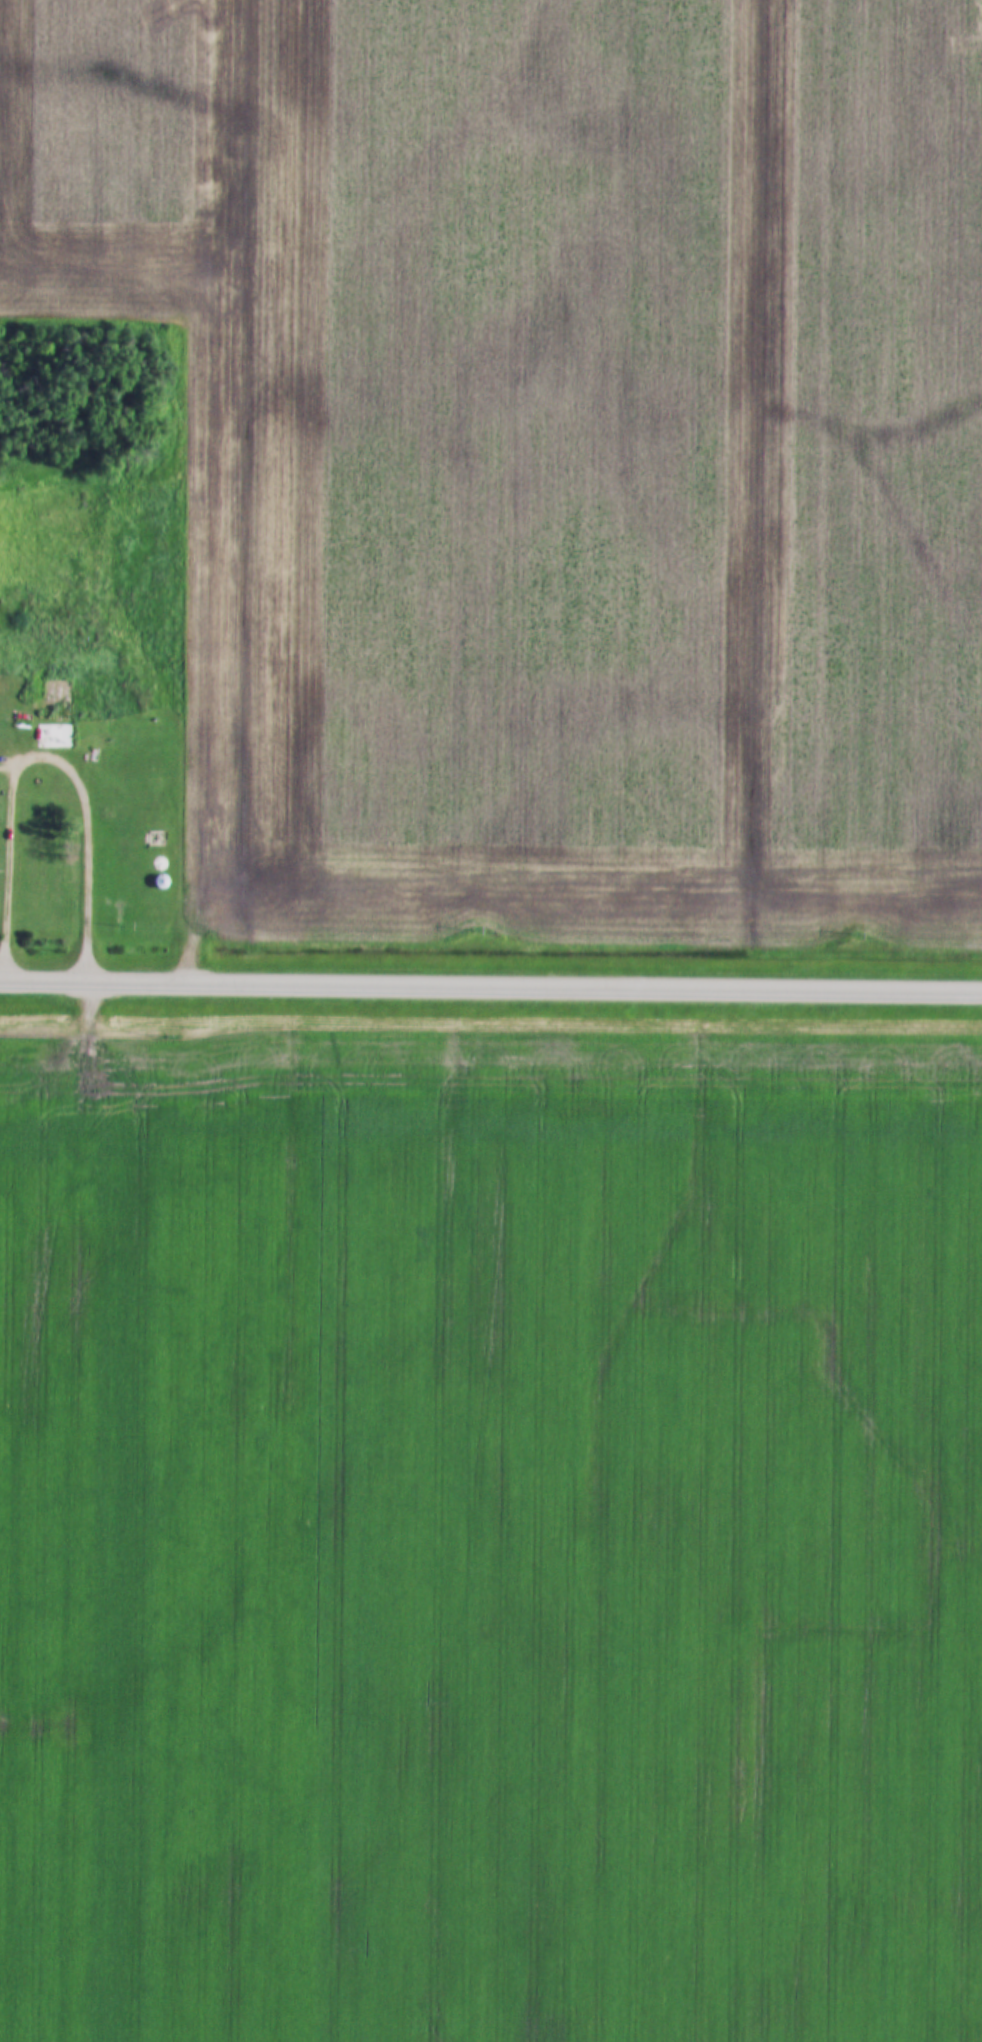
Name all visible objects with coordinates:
building: (56, 701)
road: (47, 761)
building: (160, 864)
silo: (160, 864)
building: (160, 883)
silo: (160, 883)
road: (491, 986)

